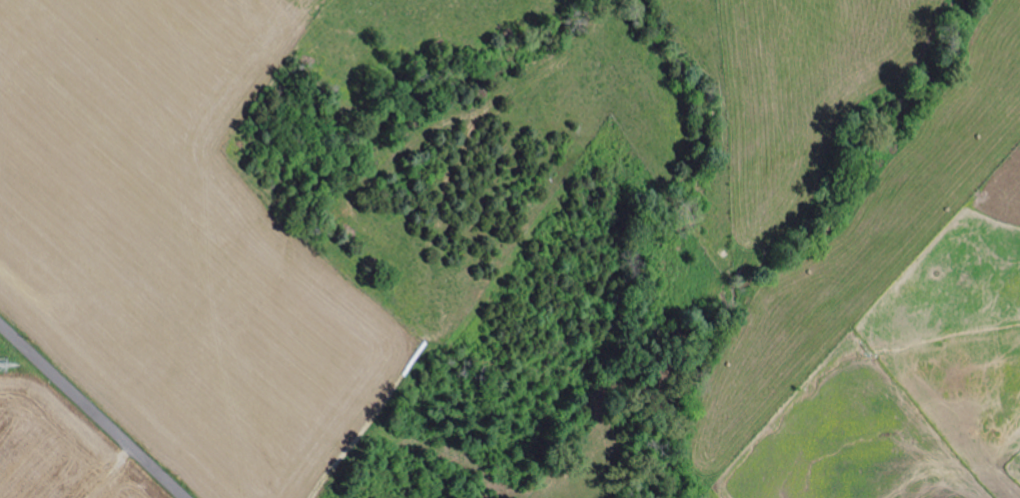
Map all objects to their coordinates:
road: (89, 413)

